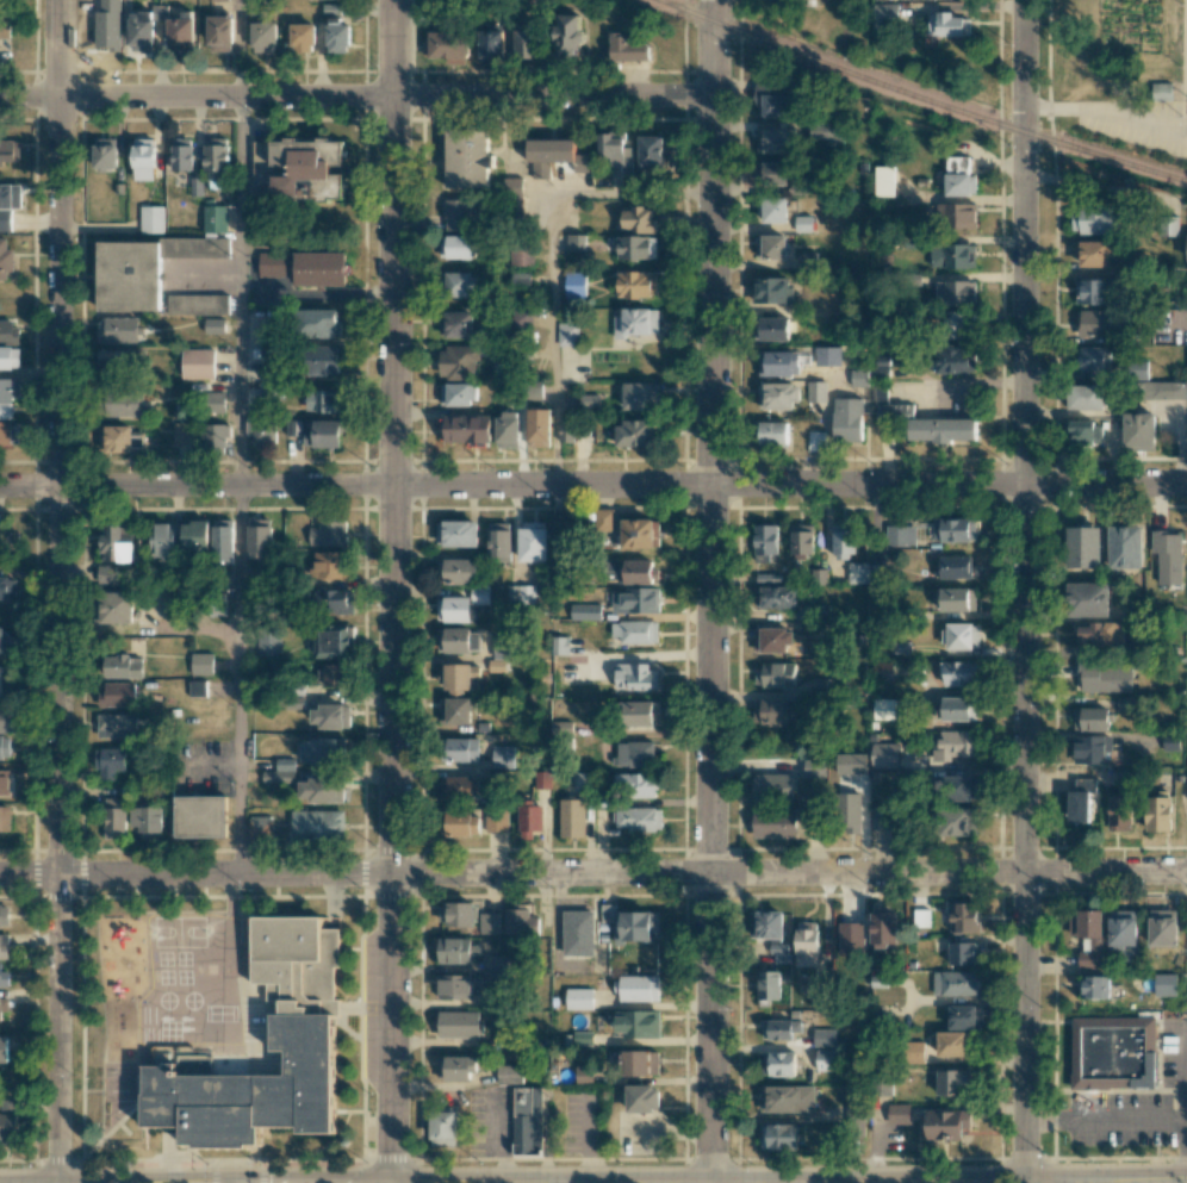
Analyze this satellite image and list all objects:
building: (217, 0)
building: (884, 14)
building: (947, 24)
building: (4, 29)
building: (335, 30)
building: (142, 31)
building: (181, 32)
building: (219, 33)
building: (263, 37)
building: (303, 37)
building: (571, 37)
building: (526, 44)
building: (491, 45)
building: (448, 46)
road: (240, 48)
building: (628, 48)
building: (1160, 91)
road: (356, 96)
railway: (920, 96)
building: (773, 99)
road: (1186, 101)
road: (1051, 106)
road: (1133, 119)
building: (777, 141)
building: (614, 150)
building: (10, 151)
building: (651, 151)
building: (105, 154)
building: (182, 154)
building: (553, 155)
building: (143, 158)
building: (216, 158)
building: (467, 158)
building: (309, 169)
building: (771, 173)
building: (958, 176)
building: (512, 183)
building: (10, 195)
building: (772, 210)
building: (456, 214)
building: (956, 214)
building: (216, 218)
building: (151, 219)
building: (638, 219)
building: (1092, 219)
building: (5, 220)
building: (803, 224)
building: (576, 242)
building: (197, 247)
building: (455, 247)
building: (635, 247)
building: (770, 247)
building: (1094, 253)
building: (522, 254)
building: (952, 256)
building: (5, 259)
road: (553, 259)
building: (304, 267)
building: (520, 279)
building: (143, 282)
building: (636, 284)
building: (461, 285)
building: (574, 285)
building: (771, 289)
road: (240, 291)
building: (1094, 291)
building: (955, 292)
building: (521, 316)
building: (636, 322)
building: (318, 323)
building: (1098, 323)
building: (455, 324)
building: (953, 324)
building: (215, 325)
building: (773, 328)
building: (118, 330)
building: (10, 332)
building: (567, 334)
building: (827, 355)
building: (10, 357)
building: (1093, 357)
building: (324, 359)
building: (267, 360)
building: (112, 361)
building: (198, 362)
building: (458, 362)
building: (777, 362)
building: (1137, 371)
building: (859, 378)
building: (269, 390)
building: (534, 390)
building: (1162, 390)
building: (816, 391)
building: (456, 394)
building: (640, 394)
building: (8, 396)
building: (778, 396)
building: (1085, 396)
building: (325, 400)
building: (589, 400)
building: (215, 401)
building: (123, 405)
building: (847, 419)
building: (922, 422)
building: (539, 428)
building: (466, 429)
building: (1138, 429)
building: (507, 430)
building: (566, 430)
building: (8, 432)
building: (184, 432)
building: (261, 432)
building: (634, 432)
building: (772, 432)
building: (1085, 432)
building: (323, 434)
building: (213, 436)
building: (118, 438)
road: (592, 484)
building: (953, 529)
building: (328, 533)
building: (456, 533)
building: (640, 533)
building: (900, 535)
building: (194, 536)
building: (260, 537)
building: (499, 540)
building: (843, 540)
building: (161, 541)
building: (533, 541)
building: (222, 542)
building: (764, 542)
building: (801, 542)
building: (114, 543)
building: (1083, 547)
building: (1125, 547)
building: (1167, 556)
building: (330, 565)
building: (952, 567)
building: (458, 571)
building: (633, 572)
building: (865, 572)
building: (105, 573)
building: (5, 587)
road: (57, 591)
road: (392, 591)
road: (710, 591)
road: (1025, 591)
building: (479, 594)
building: (521, 594)
building: (775, 597)
building: (957, 599)
building: (1088, 599)
building: (636, 600)
building: (334, 602)
building: (116, 608)
building: (453, 609)
building: (585, 611)
building: (635, 631)
building: (1100, 633)
building: (961, 635)
building: (1, 640)
building: (458, 640)
building: (772, 640)
building: (333, 641)
building: (268, 643)
building: (559, 645)
building: (505, 646)
building: (201, 664)
building: (496, 665)
building: (123, 666)
building: (881, 670)
building: (958, 673)
building: (335, 674)
building: (776, 674)
building: (458, 677)
building: (636, 677)
building: (1104, 678)
building: (4, 680)
road: (238, 680)
building: (197, 687)
building: (117, 693)
building: (958, 708)
building: (882, 709)
building: (454, 711)
building: (773, 711)
building: (641, 714)
building: (330, 715)
building: (1090, 718)
building: (6, 720)
building: (116, 726)
building: (560, 727)
building: (1170, 742)
building: (952, 745)
building: (5, 747)
building: (1092, 748)
building: (459, 749)
building: (322, 751)
building: (634, 753)
building: (882, 754)
building: (502, 757)
building: (110, 762)
building: (812, 765)
building: (280, 771)
building: (580, 780)
building: (4, 782)
building: (634, 784)
building: (772, 786)
building: (458, 787)
building: (961, 787)
building: (319, 790)
building: (1080, 799)
building: (1157, 811)
building: (853, 812)
building: (1119, 812)
building: (200, 816)
building: (530, 816)
building: (114, 817)
building: (572, 817)
building: (5, 818)
building: (638, 818)
building: (882, 818)
building: (496, 820)
building: (147, 821)
building: (957, 821)
building: (458, 823)
building: (773, 823)
building: (317, 824)
building: (260, 828)
road: (593, 874)
building: (455, 914)
building: (4, 915)
building: (920, 916)
building: (963, 917)
building: (520, 922)
building: (489, 923)
building: (629, 923)
building: (767, 924)
building: (1162, 927)
building: (883, 928)
building: (577, 933)
building: (1124, 933)
building: (1088, 935)
building: (850, 938)
building: (806, 944)
building: (4, 946)
building: (456, 949)
building: (964, 953)
building: (492, 964)
building: (2, 973)
building: (953, 983)
building: (1166, 984)
building: (454, 986)
building: (769, 986)
building: (1095, 986)
building: (636, 988)
building: (578, 998)
building: (1, 1009)
building: (965, 1016)
building: (458, 1023)
building: (636, 1023)
building: (771, 1029)
building: (304, 1033)
building: (827, 1038)
building: (951, 1044)
building: (4, 1048)
building: (1114, 1051)
building: (915, 1052)
building: (827, 1059)
building: (639, 1063)
building: (782, 1063)
building: (455, 1067)
building: (509, 1073)
building: (952, 1082)
building: (642, 1098)
building: (787, 1098)
building: (897, 1114)
building: (8, 1117)
road: (1107, 1119)
building: (527, 1120)
parking lot: (1120, 1120)
building: (945, 1123)
road: (1186, 1127)
building: (442, 1128)
building: (778, 1137)
traffic signals: (238, 1182)
road: (315, 1182)
road: (947, 1182)
road: (1062, 1182)
road: (1123, 1182)

